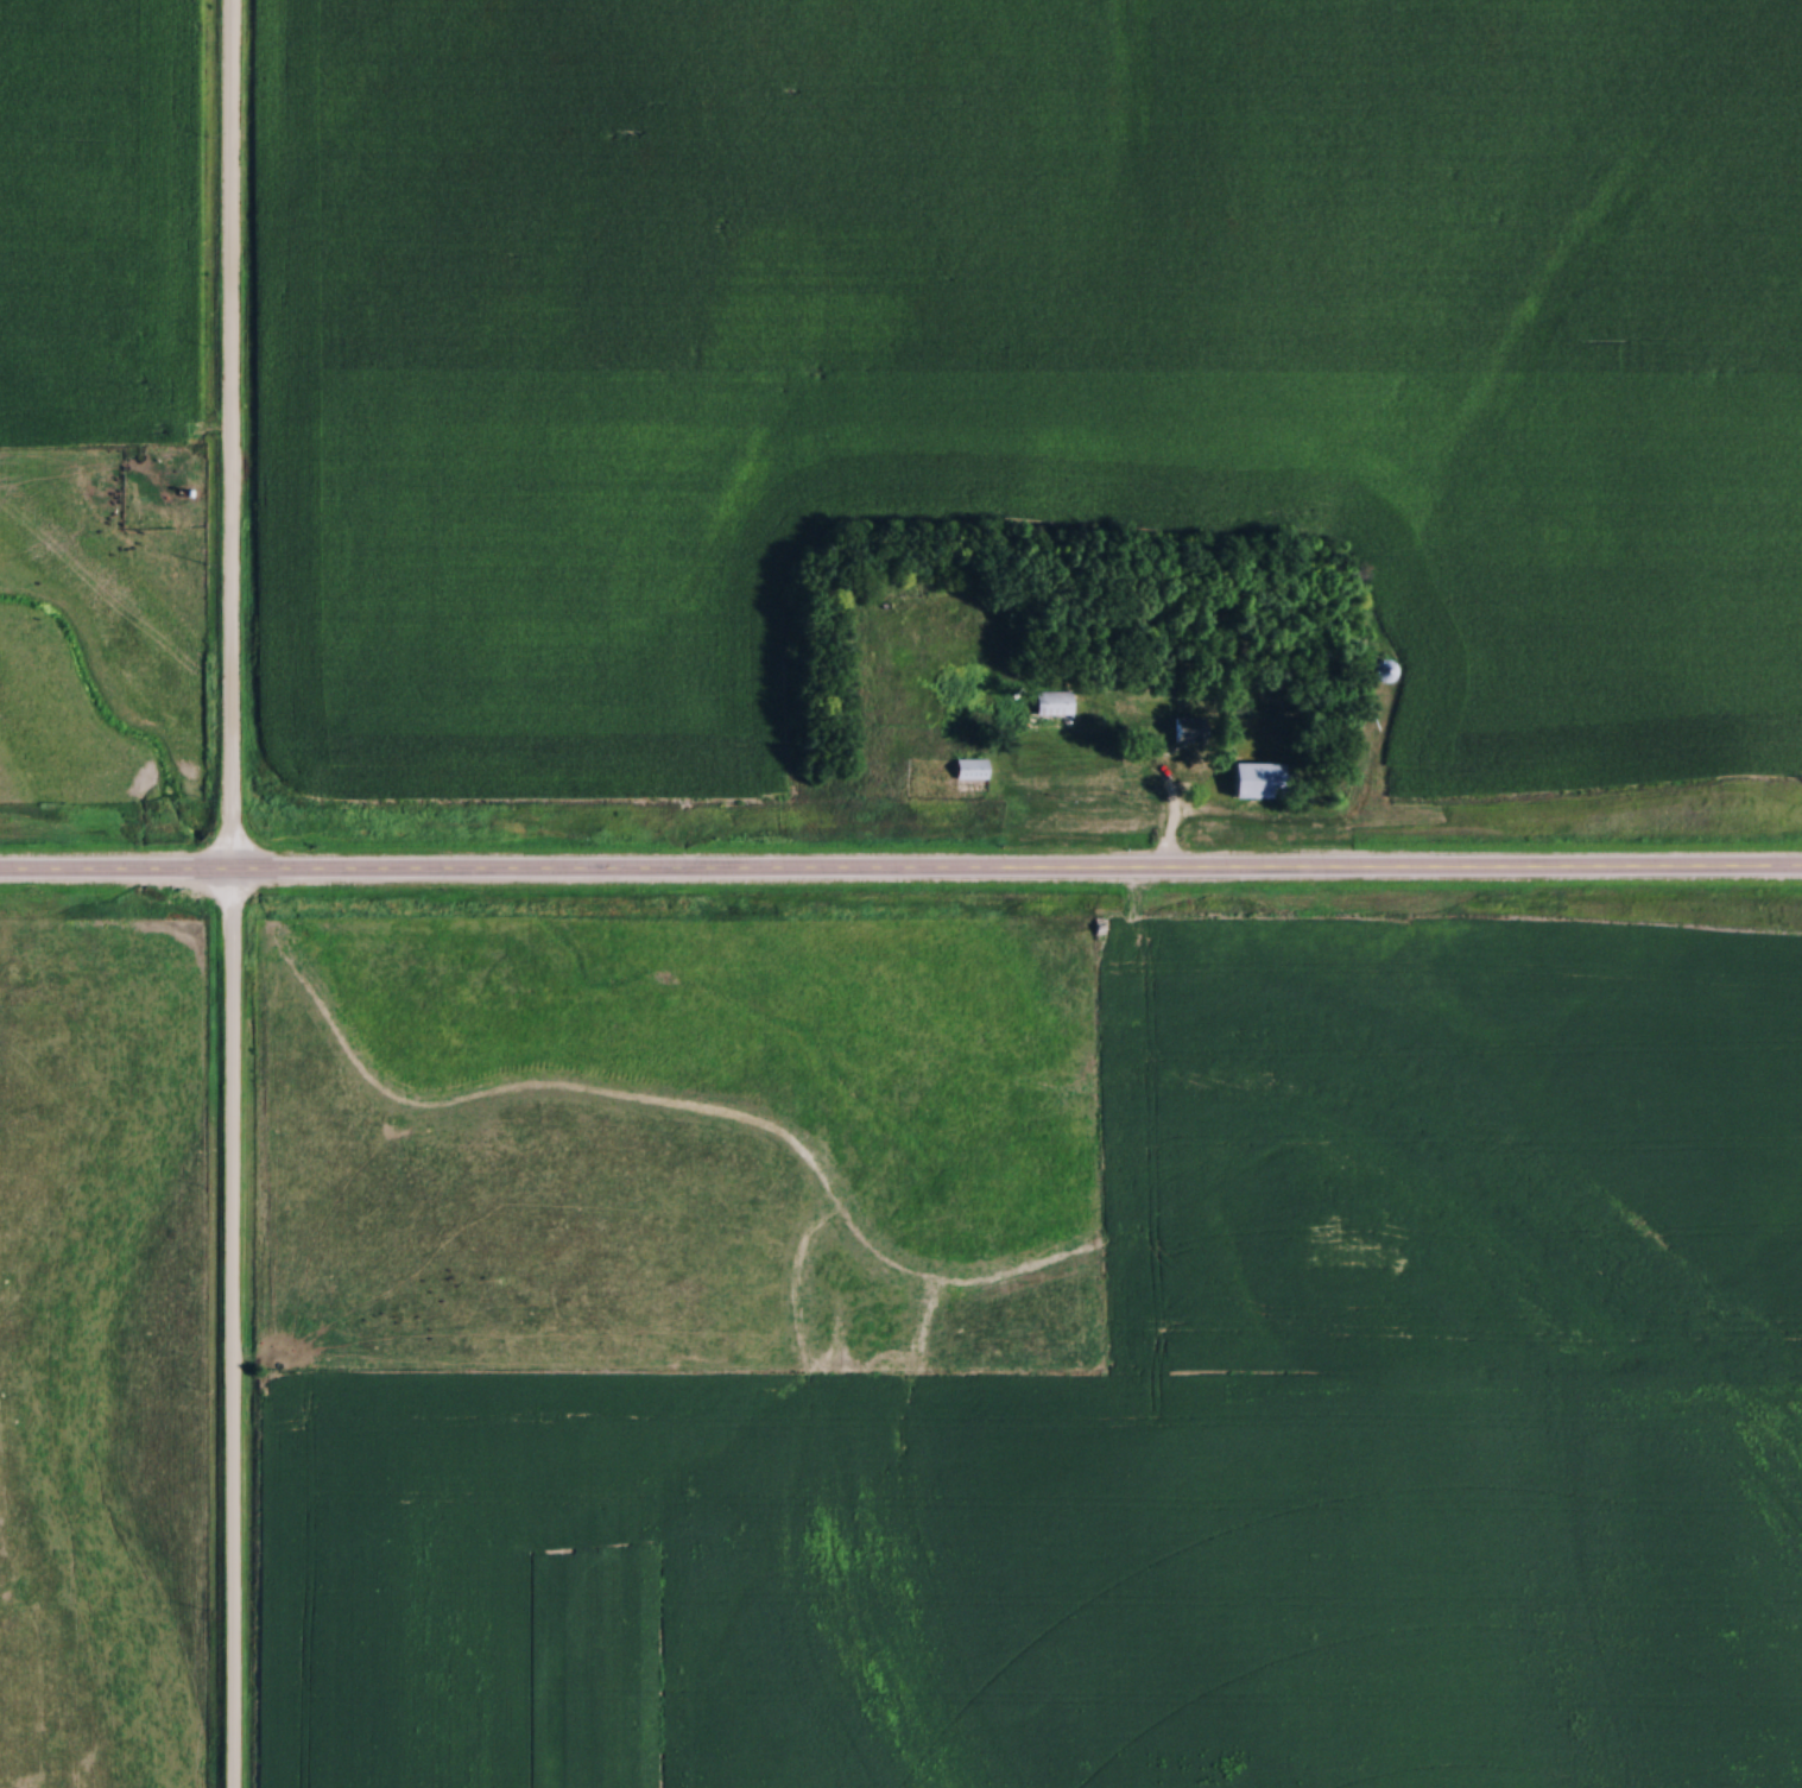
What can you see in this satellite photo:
building: (1381, 671)
building: (1055, 703)
building: (1182, 732)
building: (970, 770)
building: (1253, 781)
road: (1171, 800)
road: (116, 871)
road: (1017, 876)
road: (233, 893)

